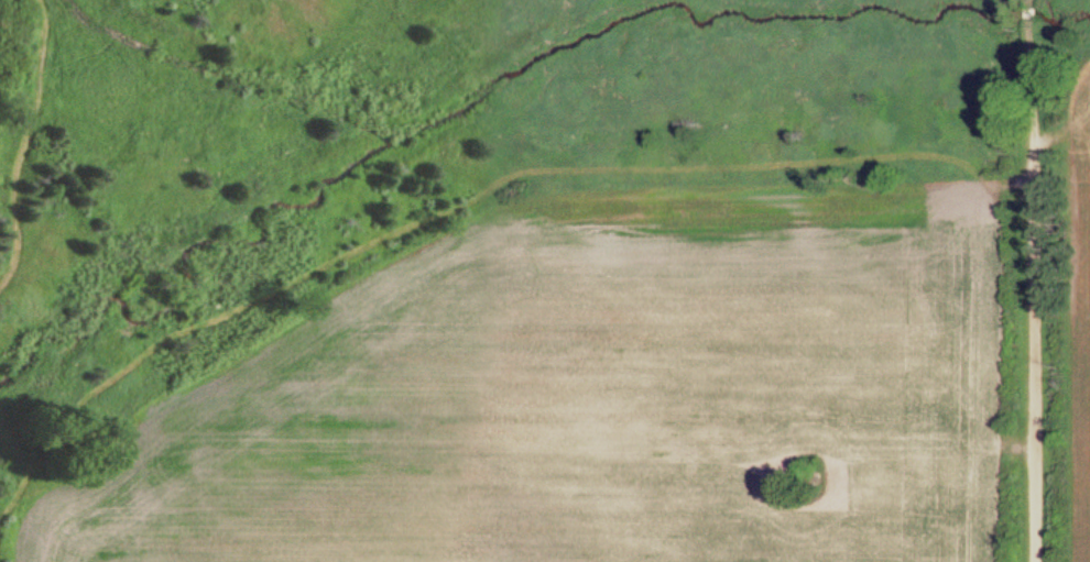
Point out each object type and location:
road: (1018, 280)

